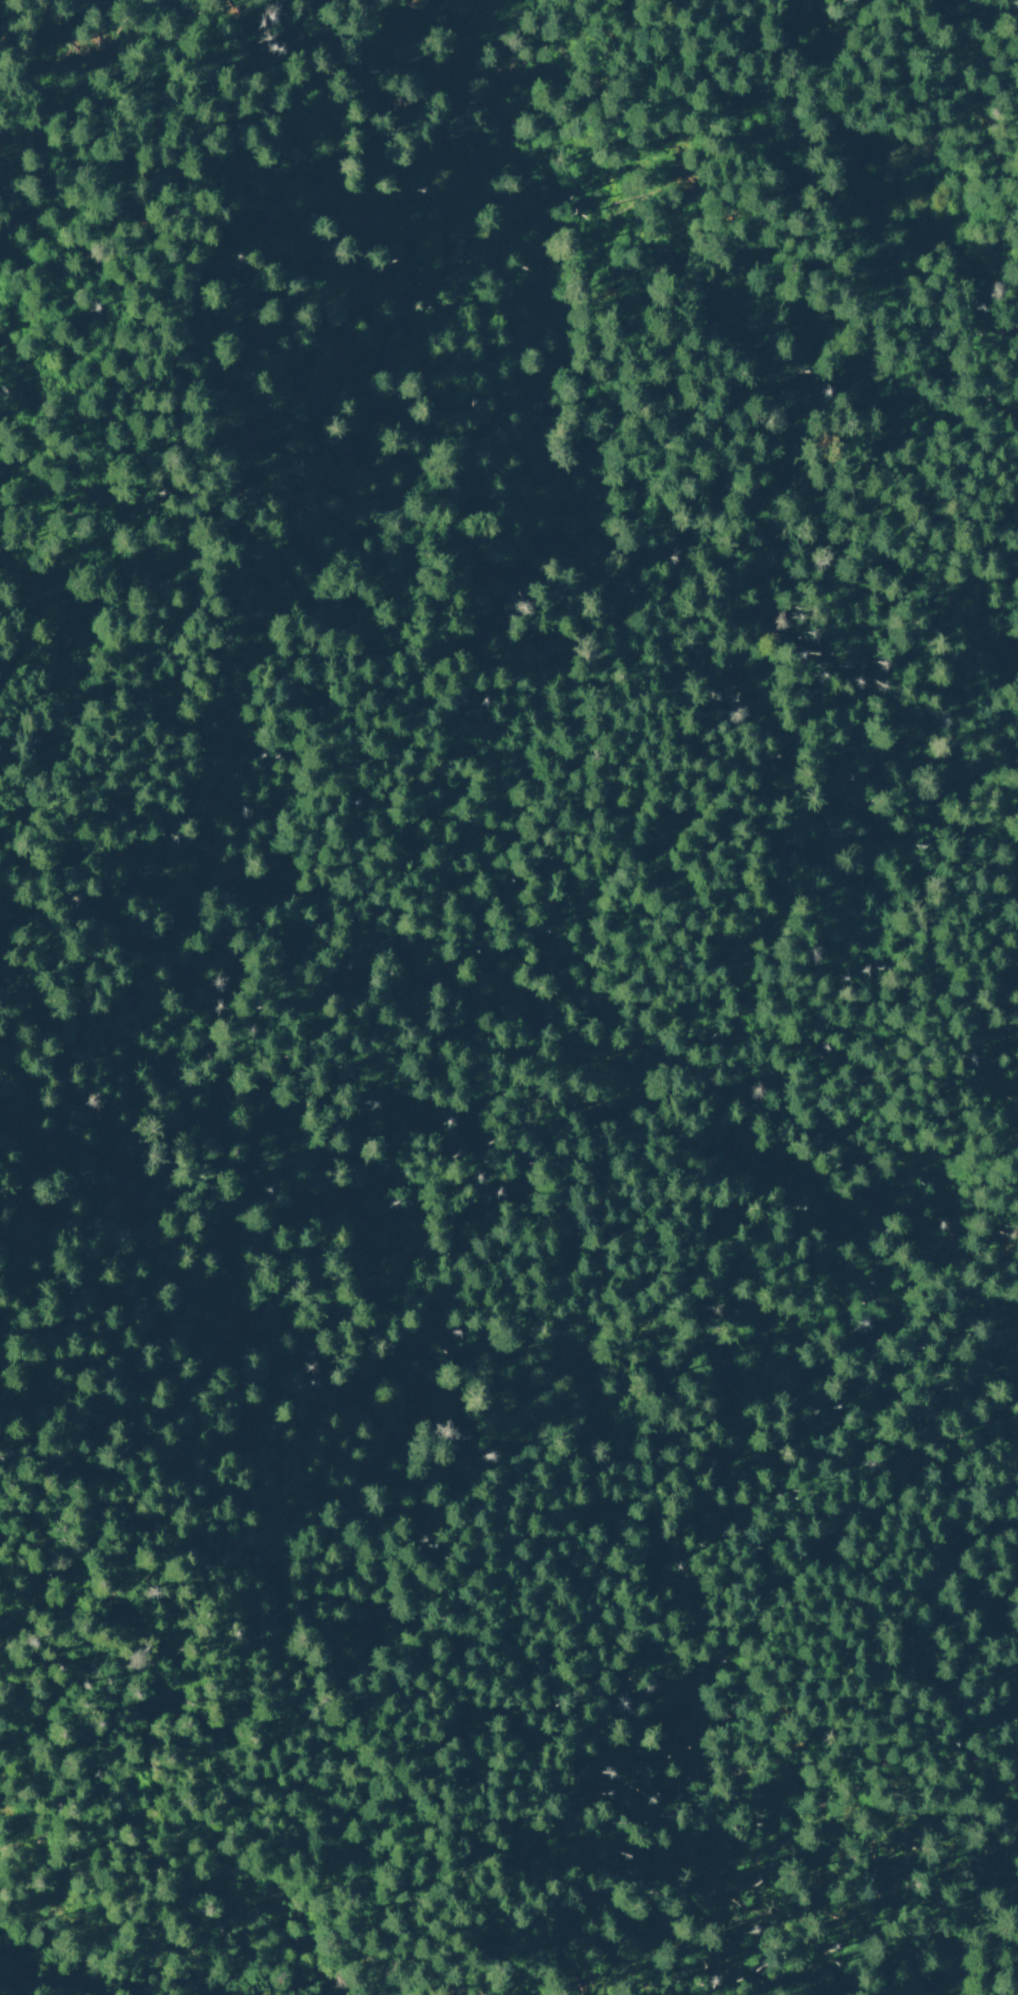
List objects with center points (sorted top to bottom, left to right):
road: (563, 742)

